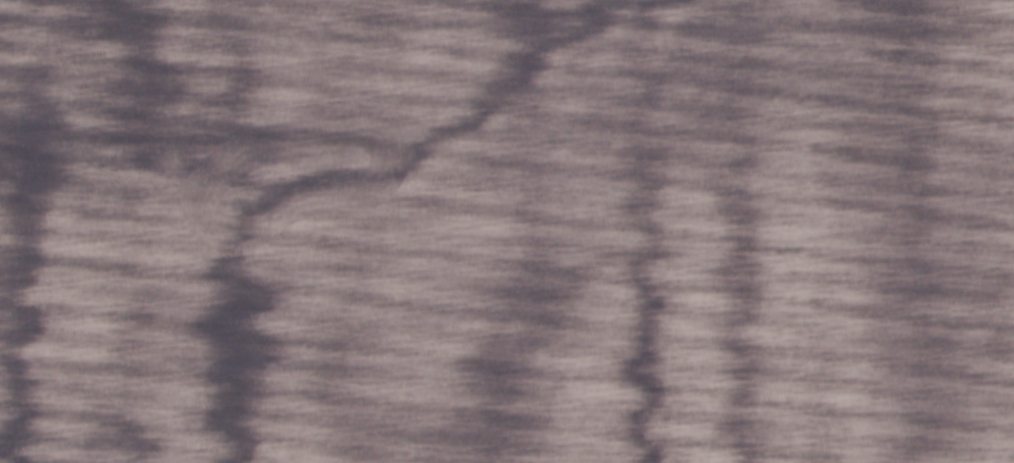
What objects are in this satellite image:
crop: (507, 231)

